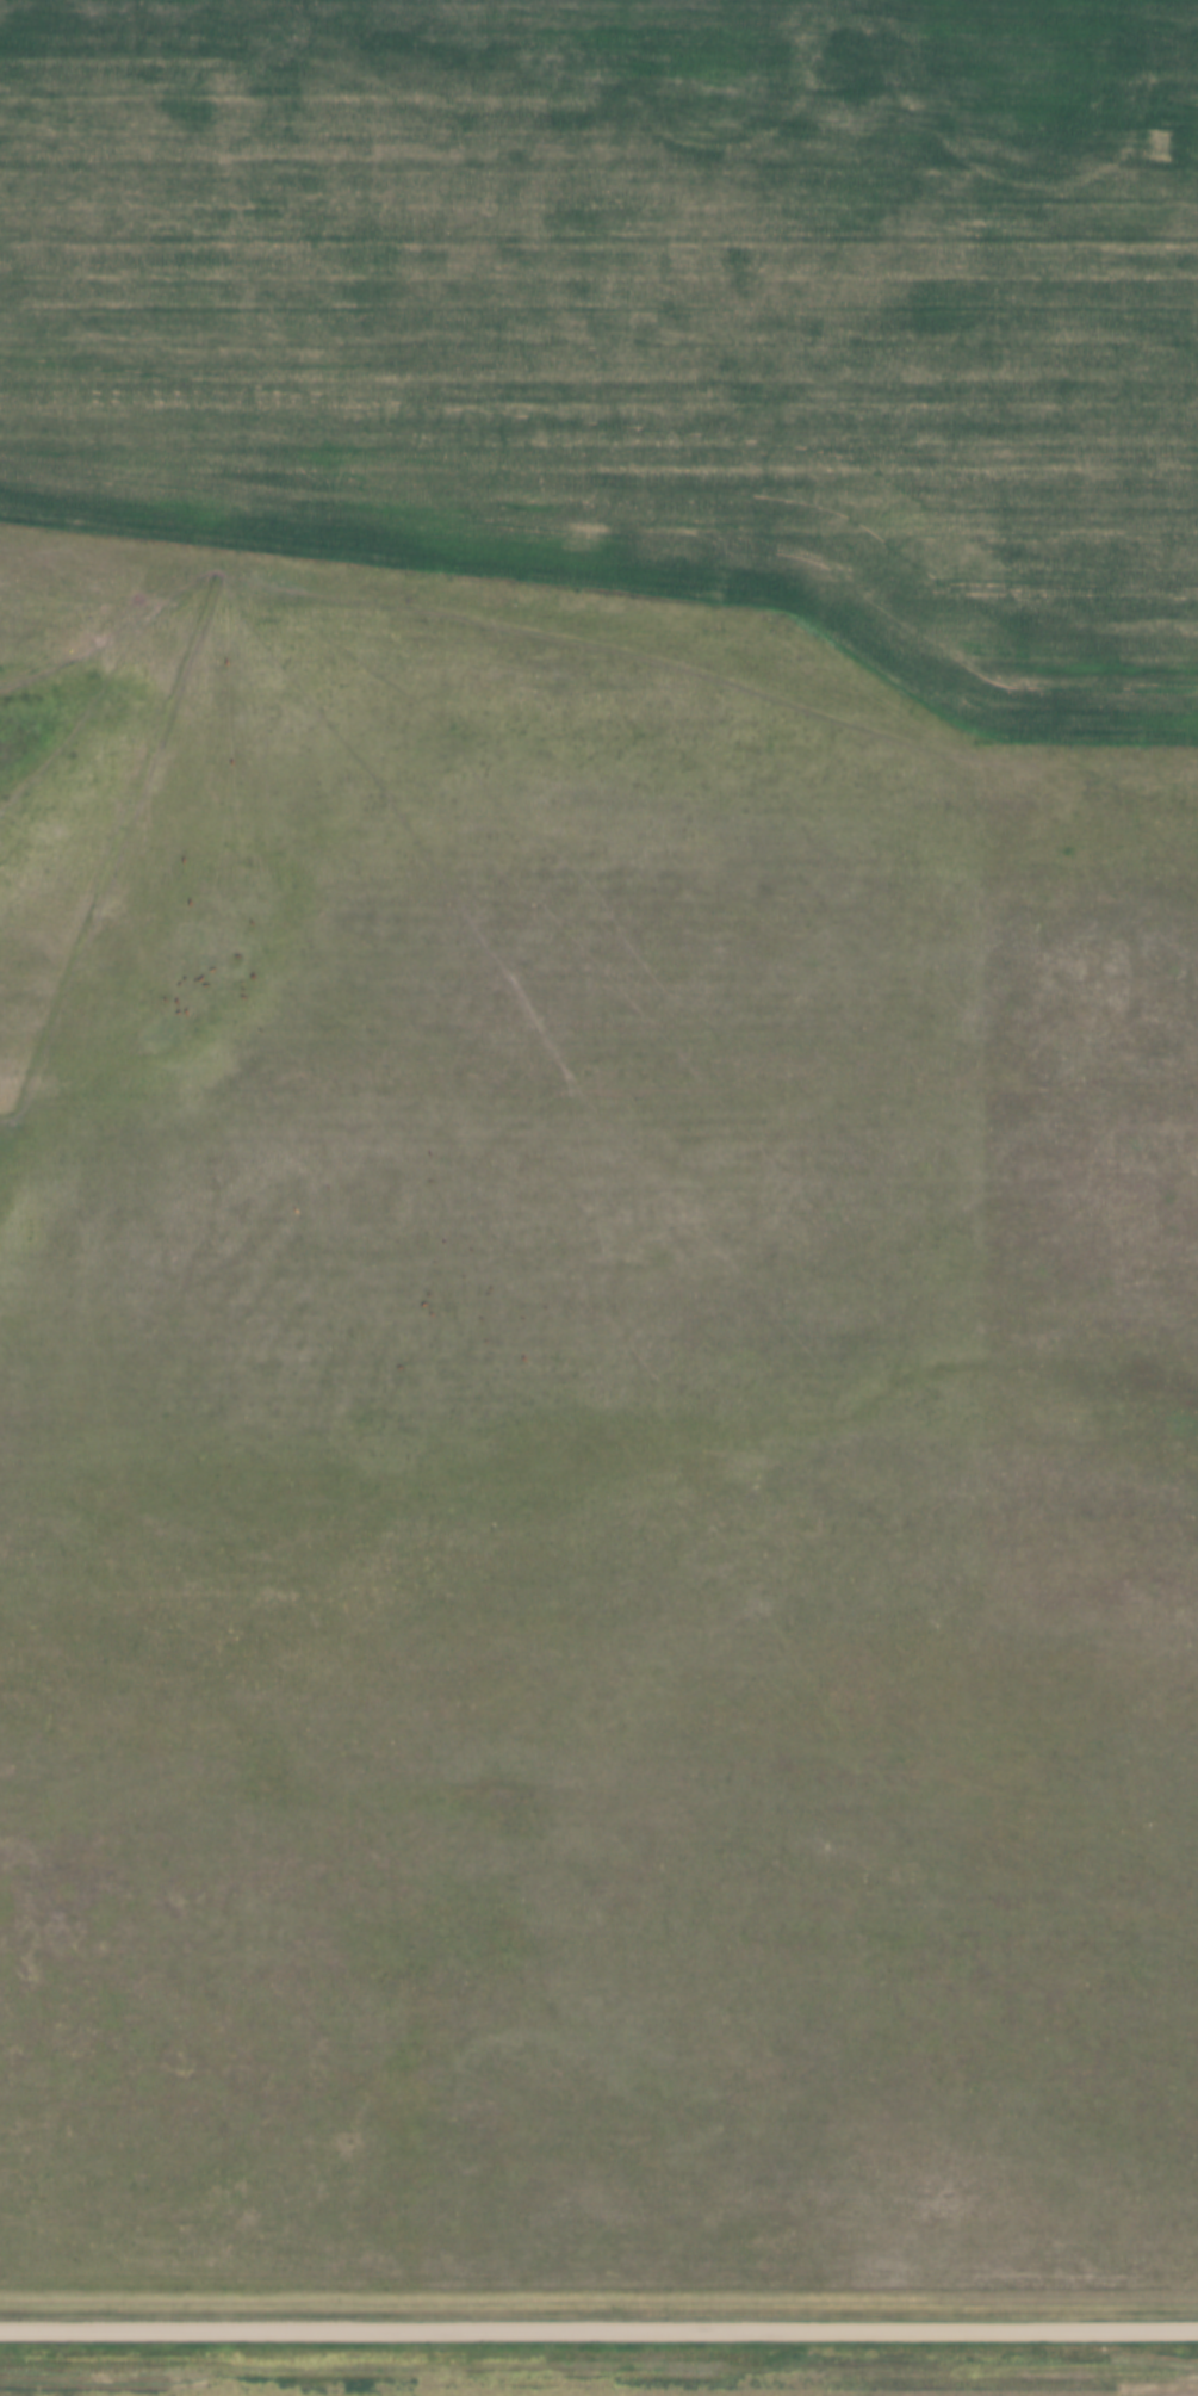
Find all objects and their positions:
road: (598, 2329)

